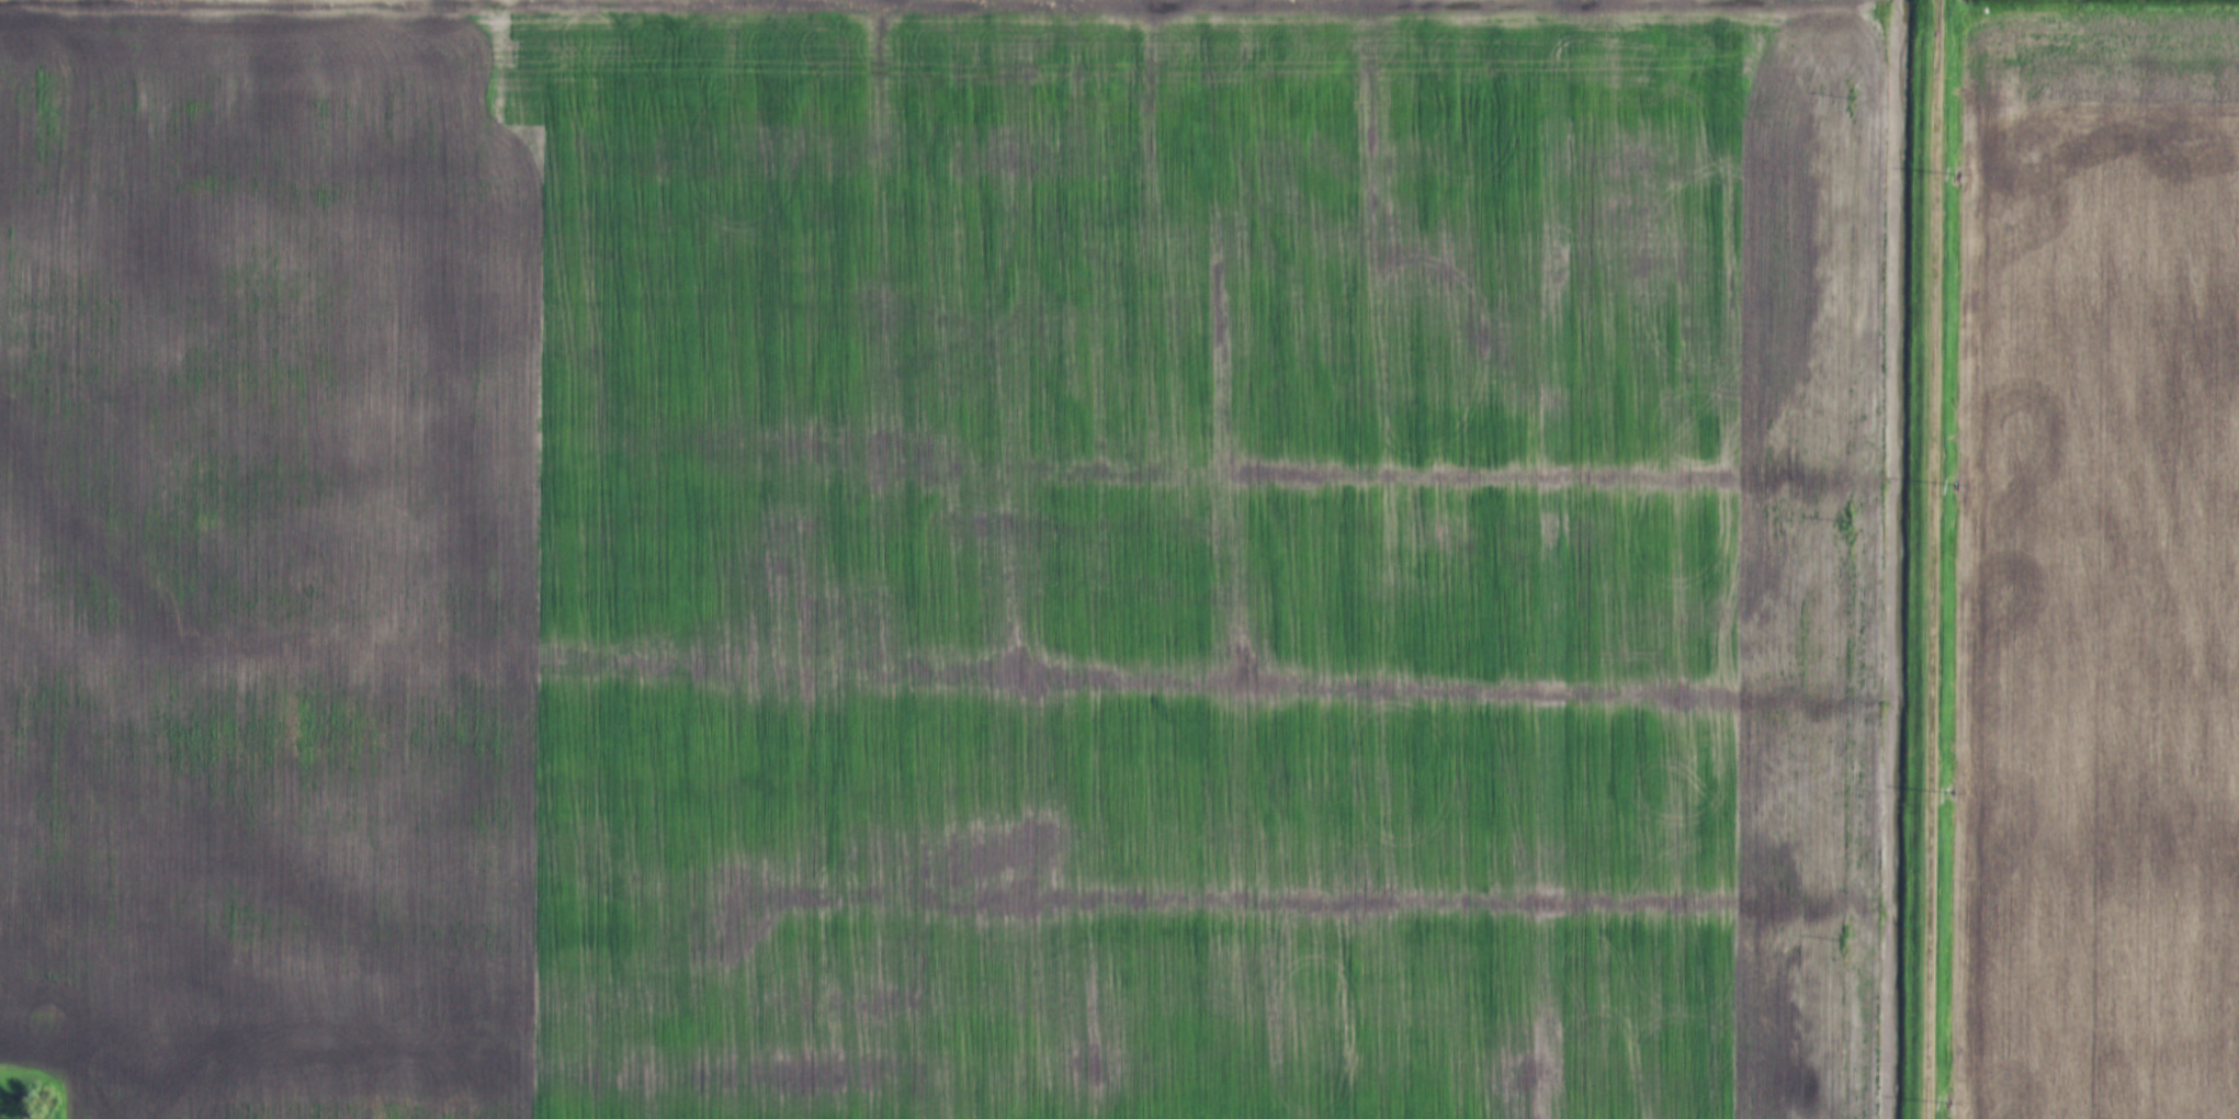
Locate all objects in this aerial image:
road: (1929, 558)

